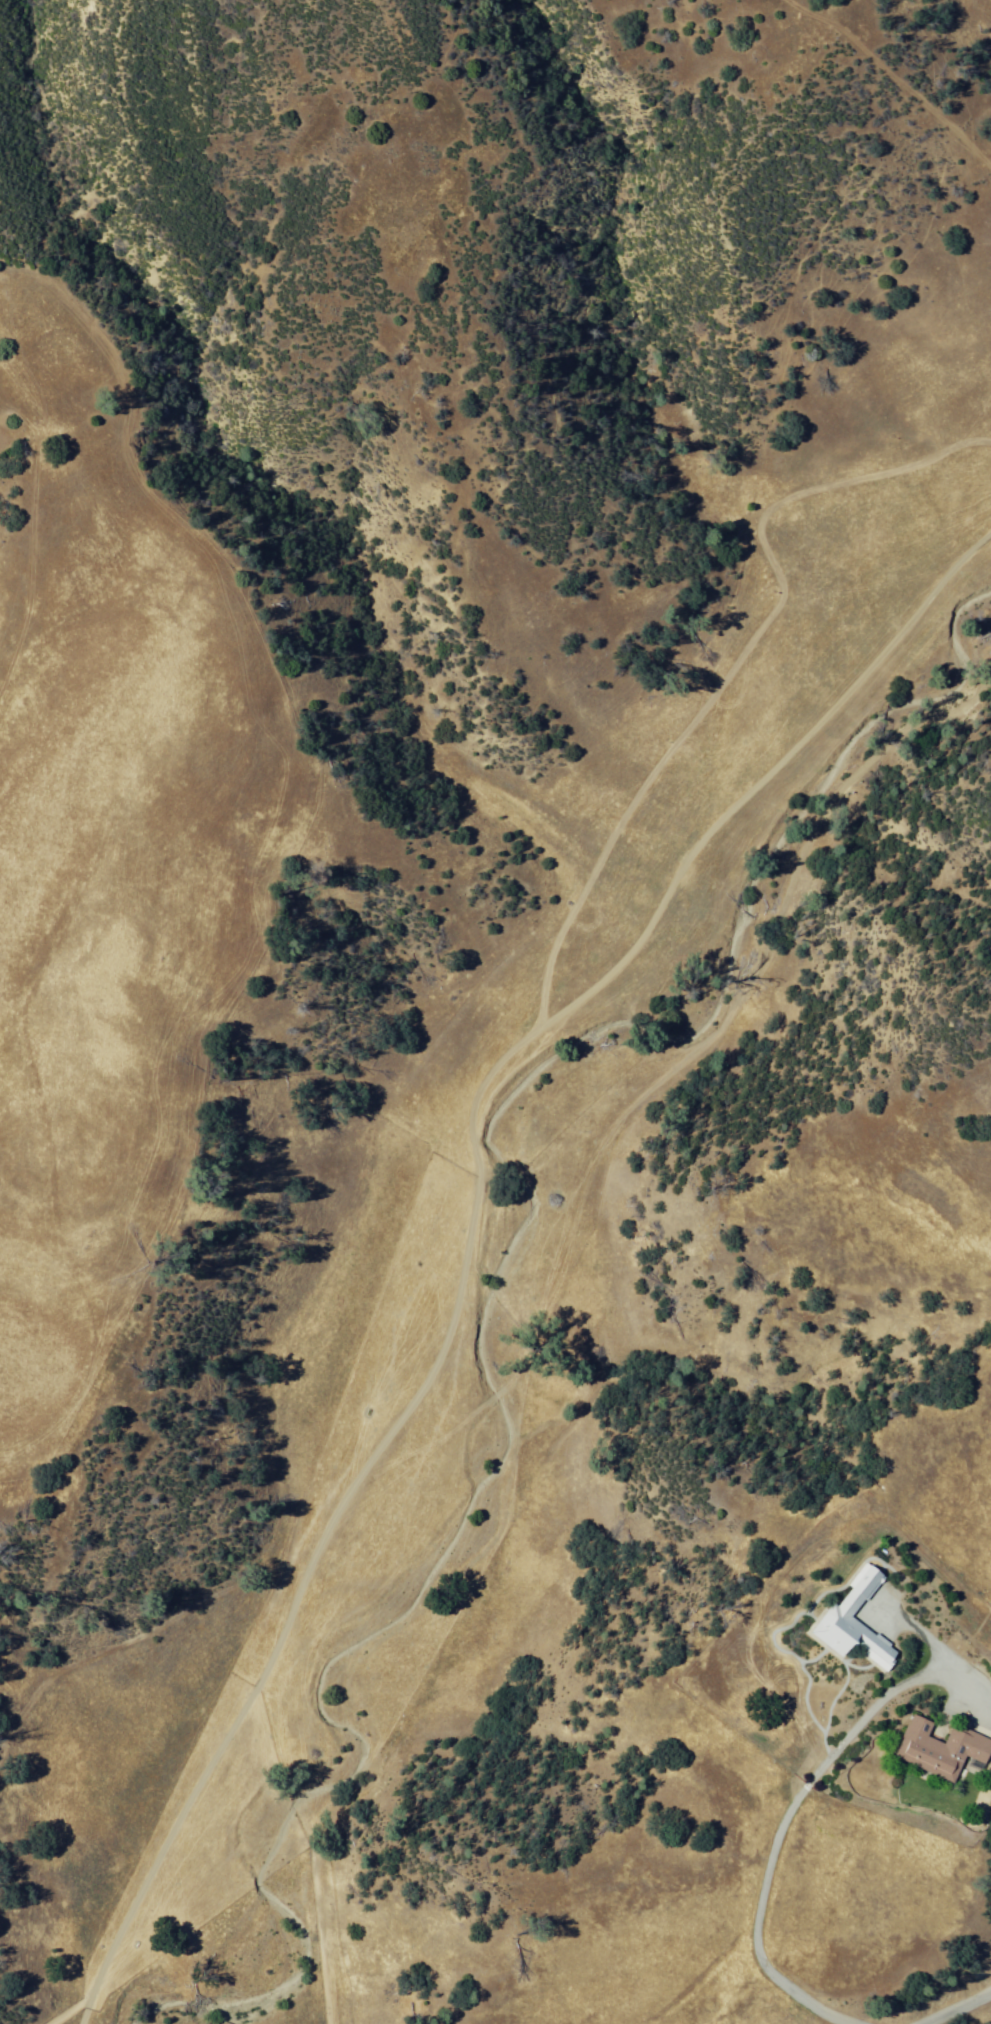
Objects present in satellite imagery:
road: (471, 1226)
building: (846, 1622)
building: (931, 1748)
road: (70, 2006)

